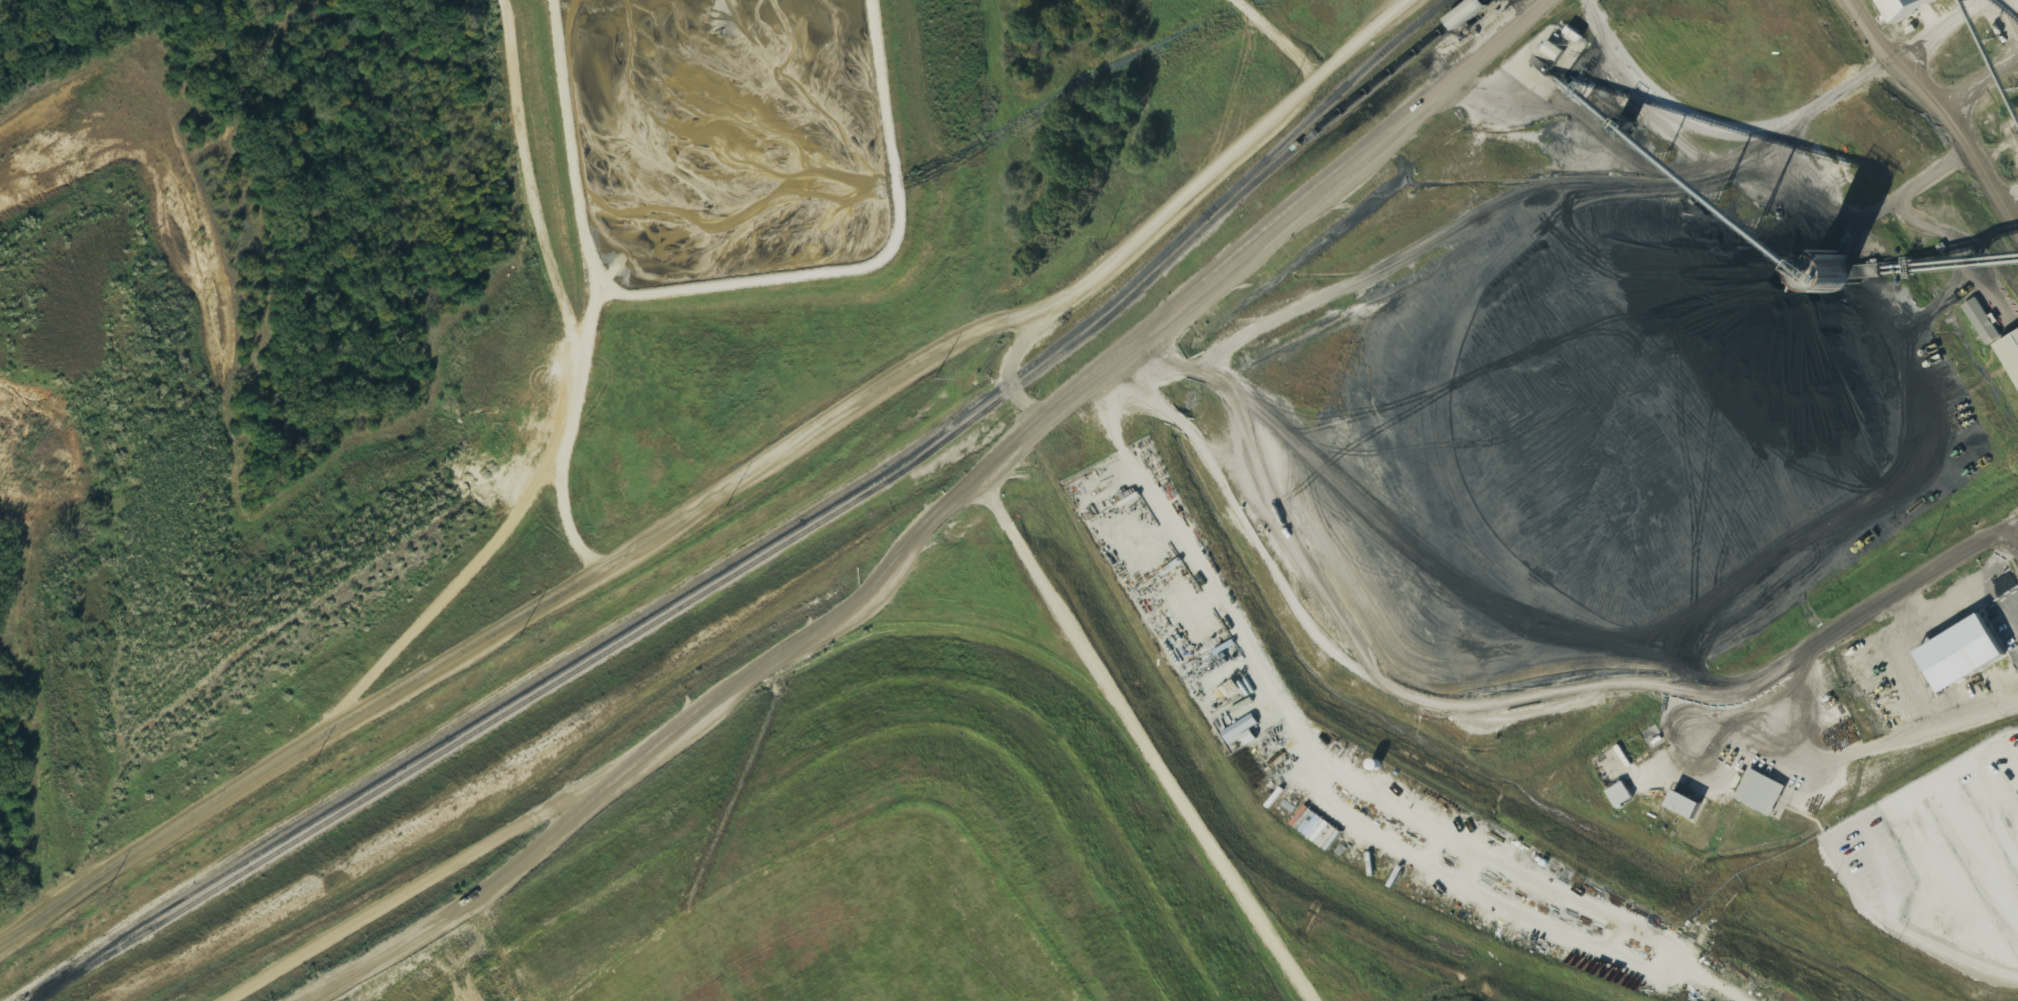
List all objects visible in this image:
building: (1910, 8)
building: (1470, 13)
building: (1555, 51)
building: (1984, 322)
building: (2008, 352)
railway: (797, 525)
railway: (785, 544)
power plant: (1250, 576)
building: (1966, 654)
building: (1242, 728)
building: (1251, 738)
building: (1763, 793)
building: (1622, 795)
building: (1687, 806)
building: (1318, 829)

